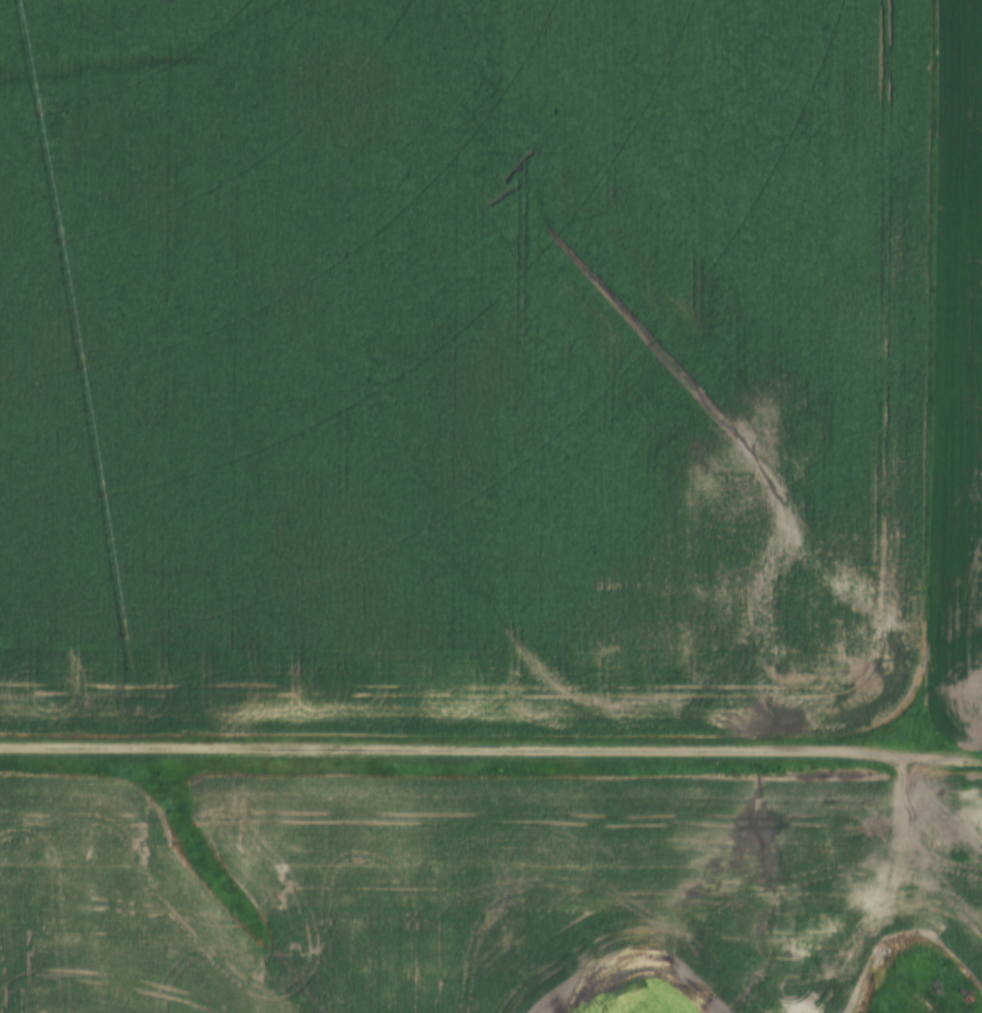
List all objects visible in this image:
road: (461, 747)
crop: (509, 897)

